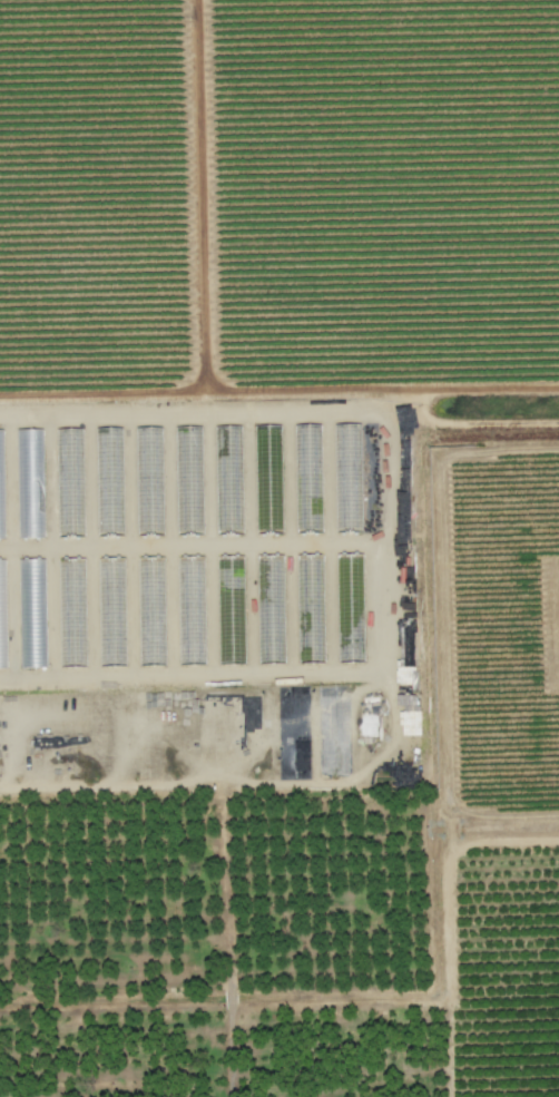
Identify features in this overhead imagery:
building: (29, 459)
building: (267, 479)
building: (108, 481)
building: (148, 481)
building: (1, 493)
building: (116, 571)
building: (310, 571)
building: (71, 592)
building: (150, 610)
building: (190, 610)
building: (31, 613)
building: (410, 732)

